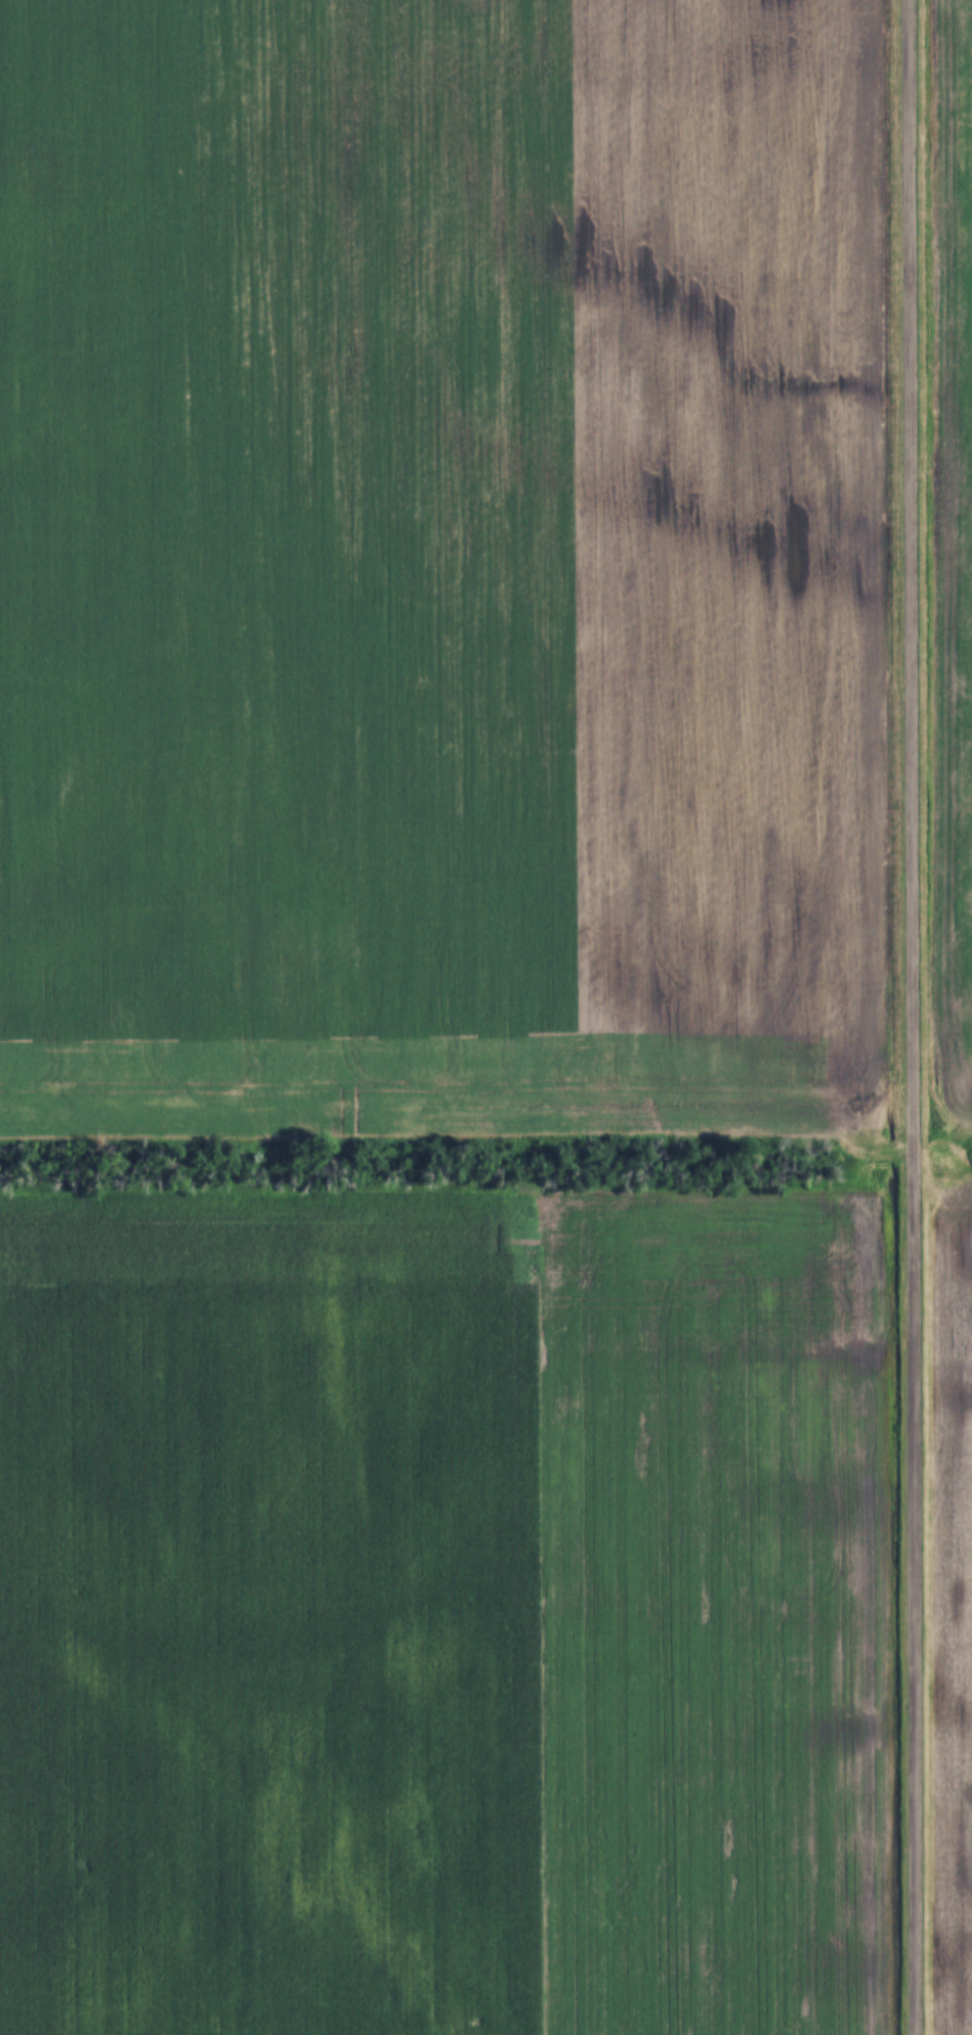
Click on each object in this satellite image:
road: (917, 1017)

